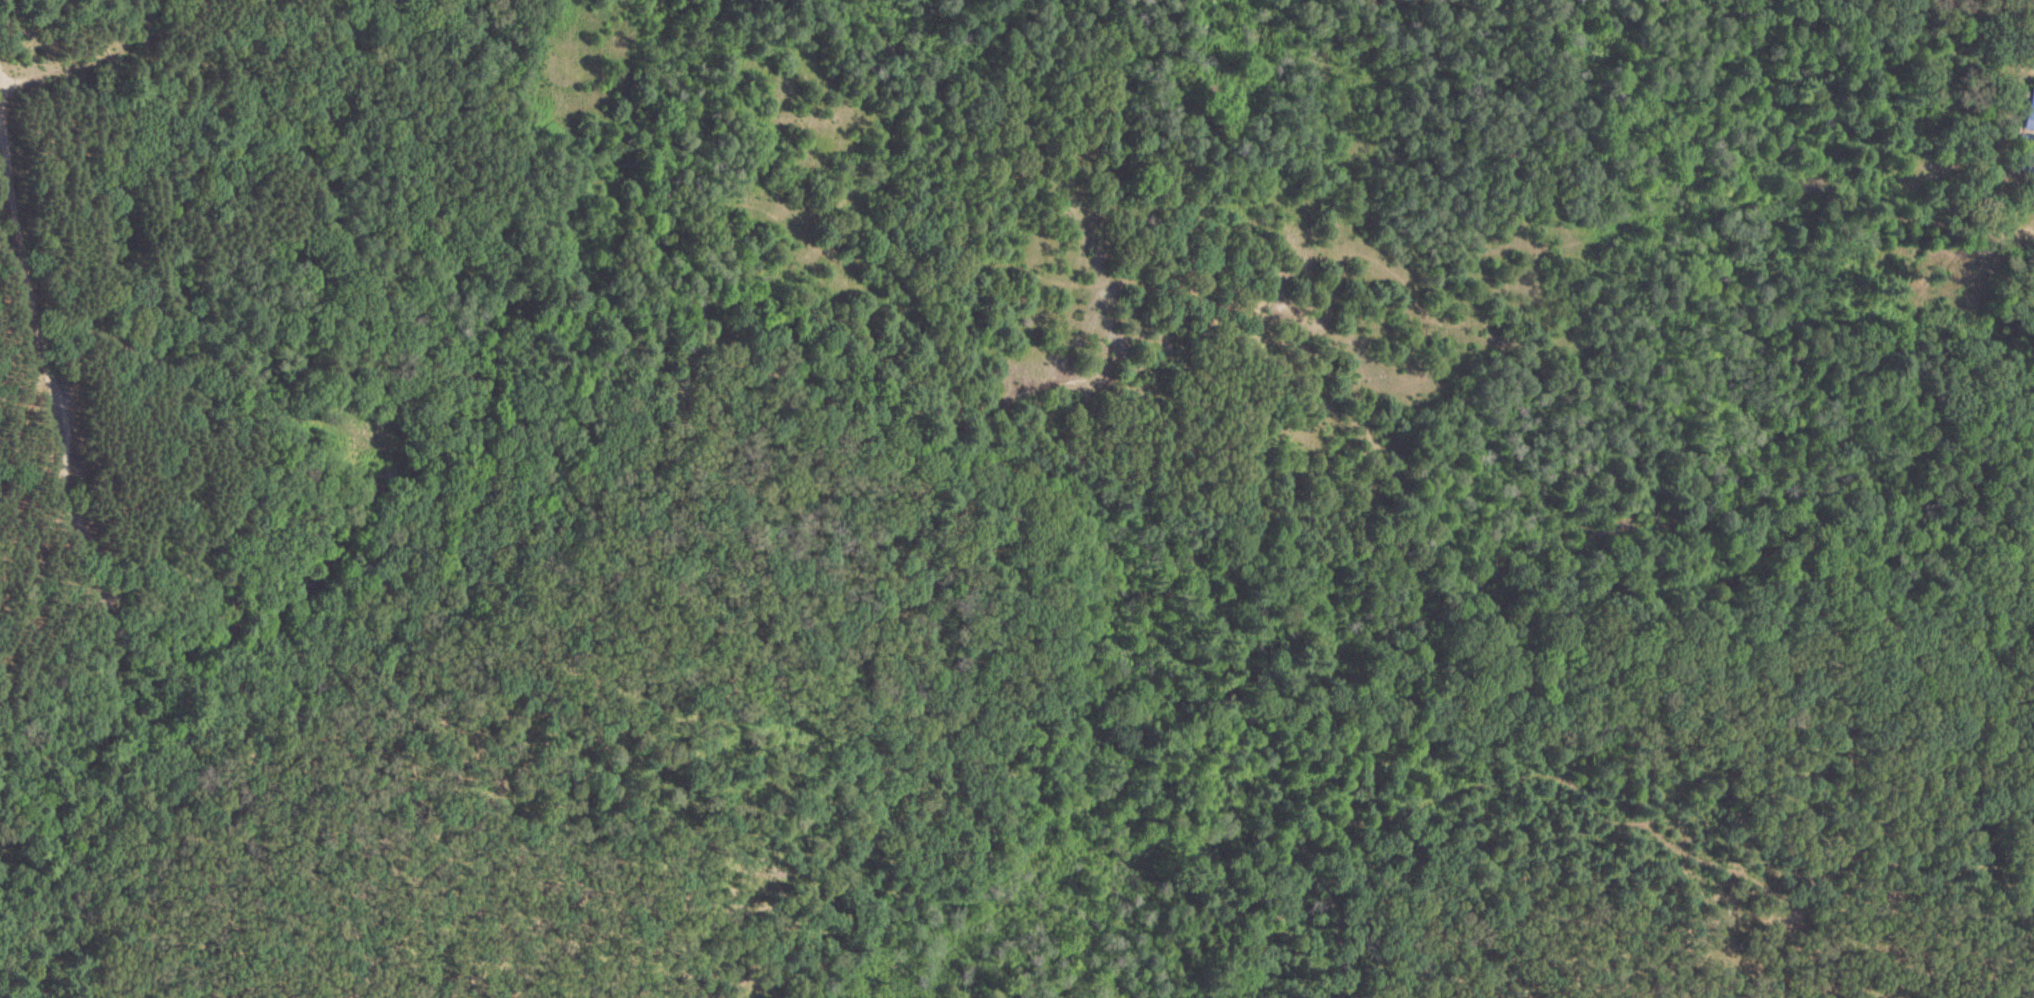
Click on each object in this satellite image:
building: (2030, 113)

